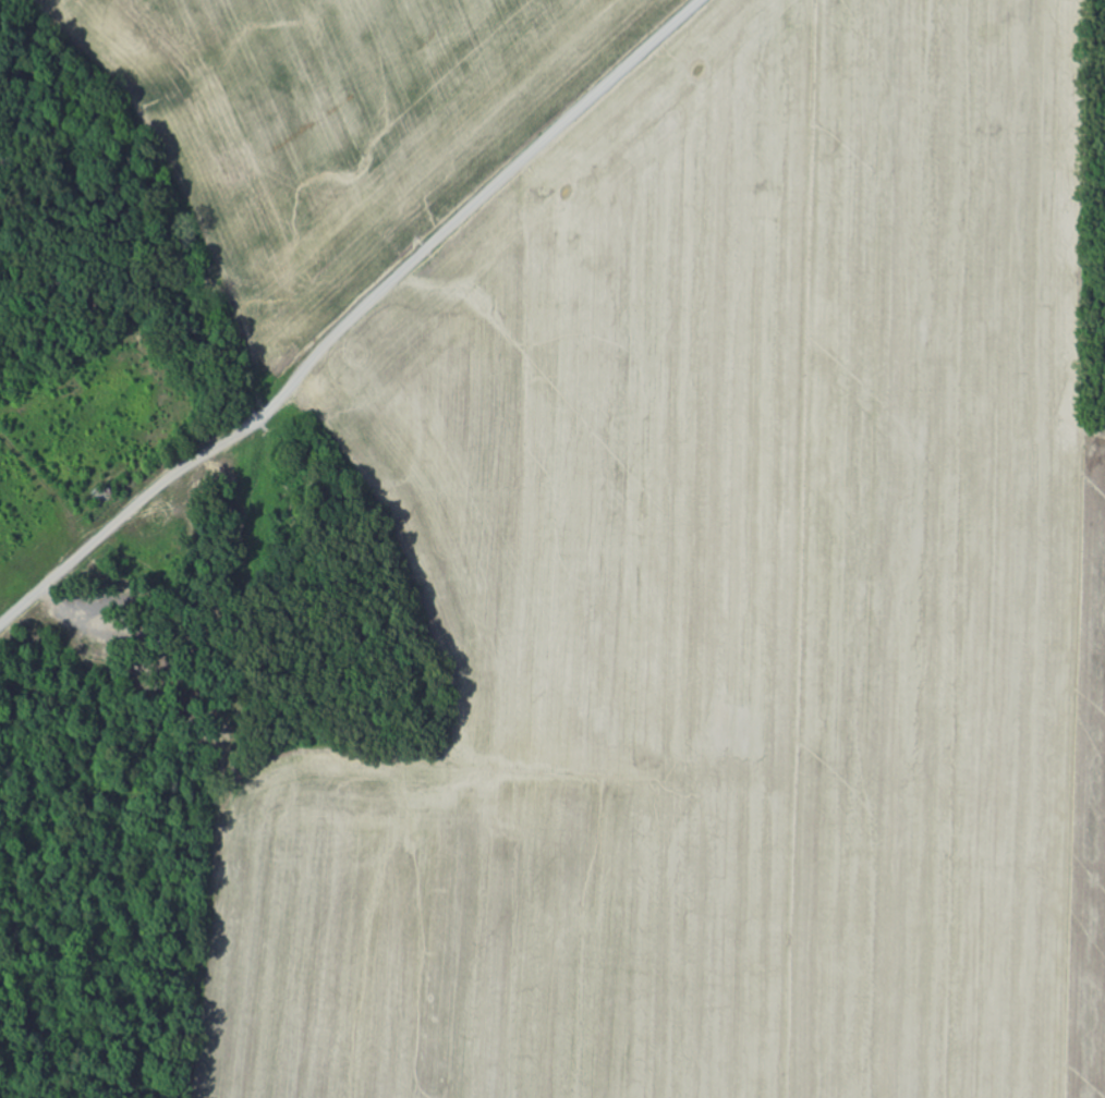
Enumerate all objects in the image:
road: (353, 318)

